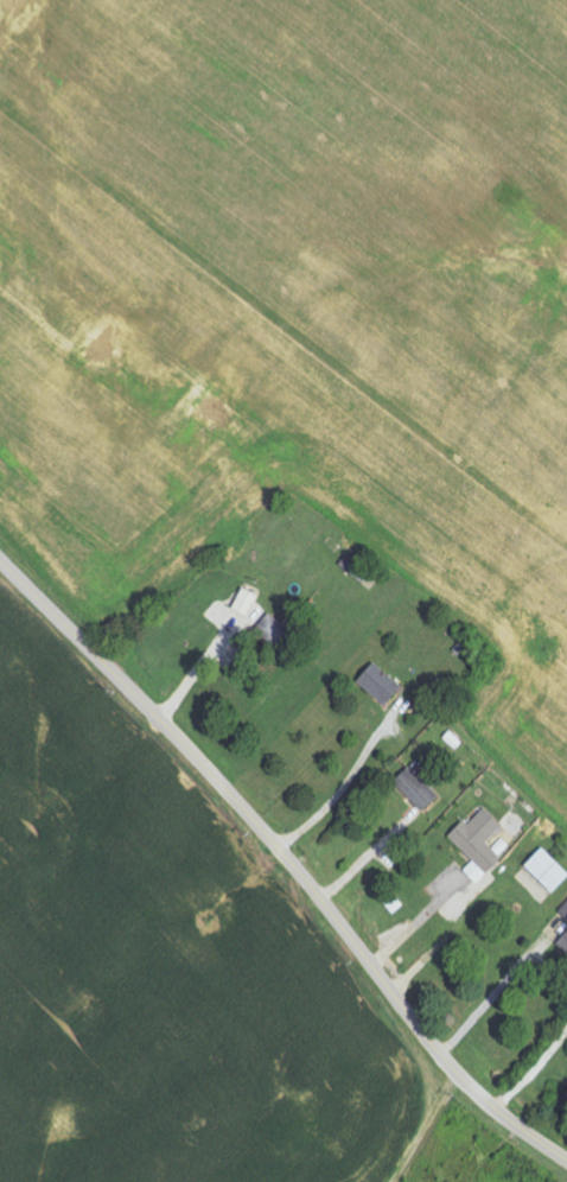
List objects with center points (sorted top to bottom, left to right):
building: (249, 602)
road: (196, 674)
building: (383, 684)
building: (420, 789)
road: (339, 793)
building: (483, 839)
road: (286, 859)
road: (368, 859)
building: (550, 870)
building: (478, 872)
building: (565, 911)
road: (422, 920)
road: (454, 938)
road: (496, 996)

